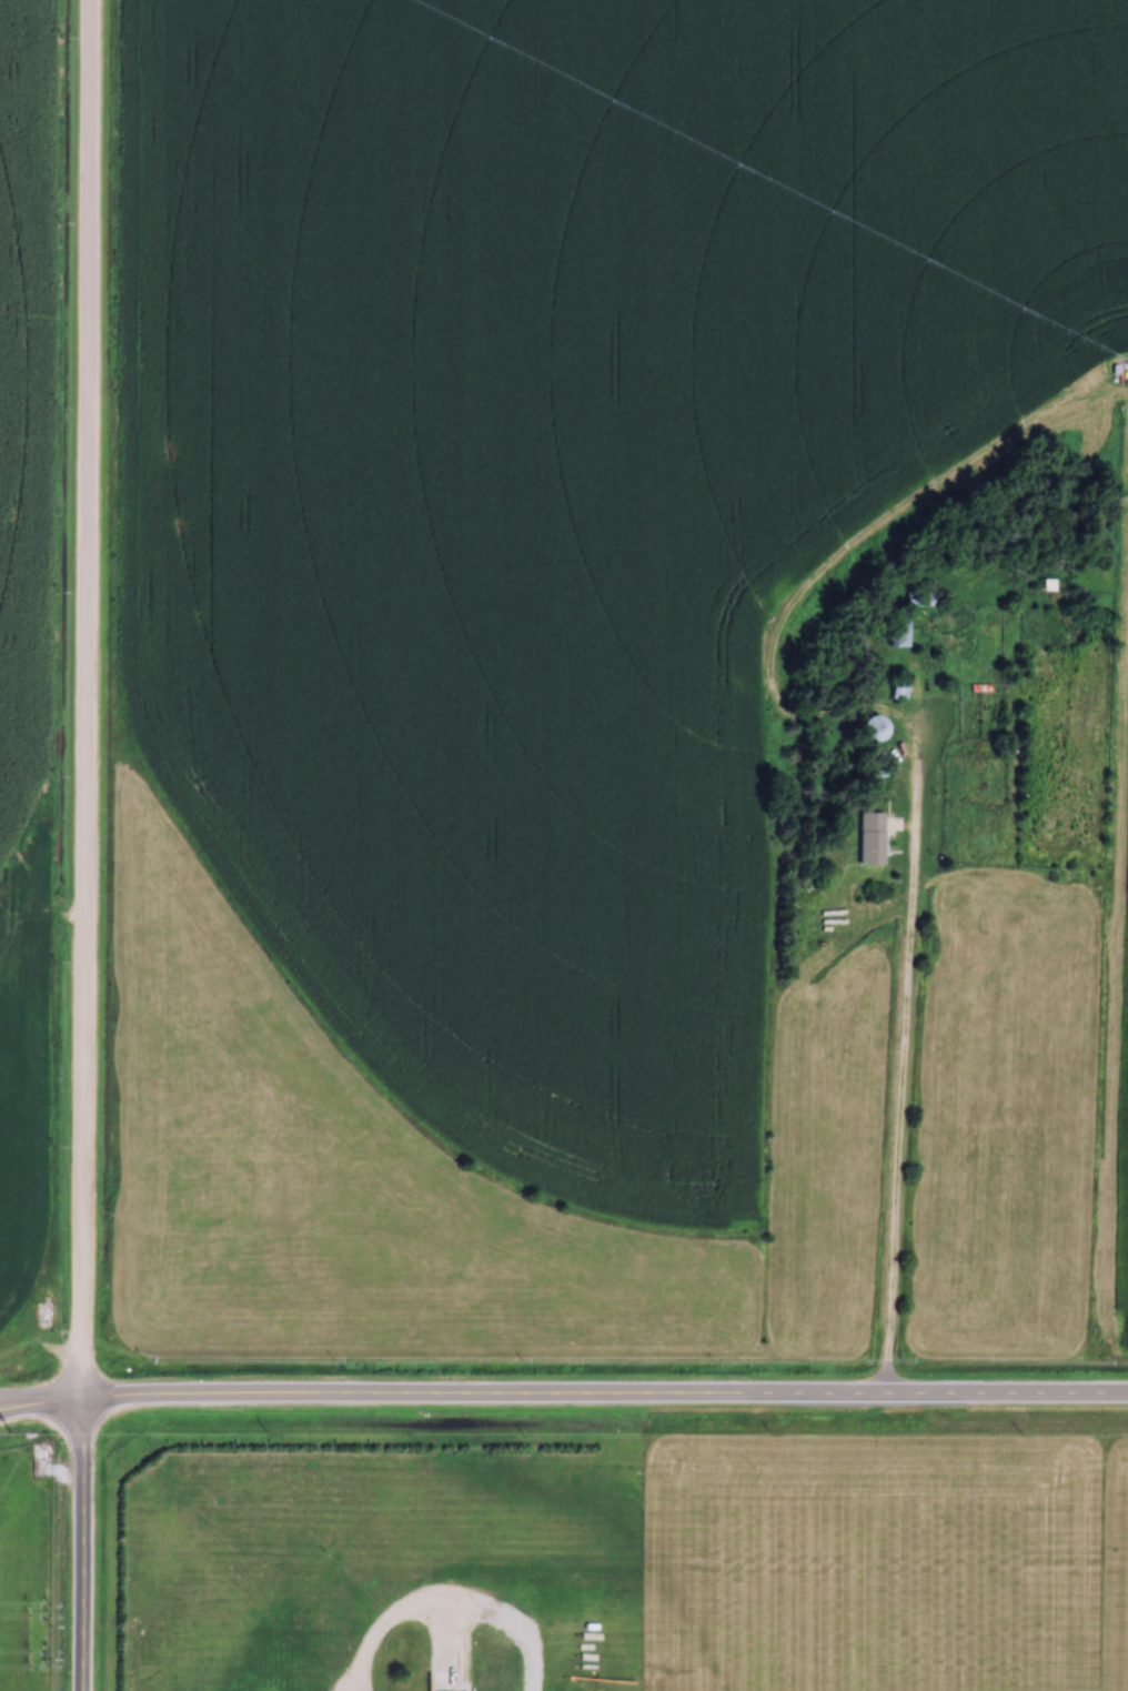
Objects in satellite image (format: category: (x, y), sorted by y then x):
building: (1047, 584)
building: (918, 598)
building: (897, 627)
building: (898, 687)
road: (81, 697)
building: (865, 726)
building: (875, 775)
building: (868, 838)
road: (904, 1047)
road: (573, 1390)
road: (10, 1400)
road: (10, 1403)
road: (84, 1542)

